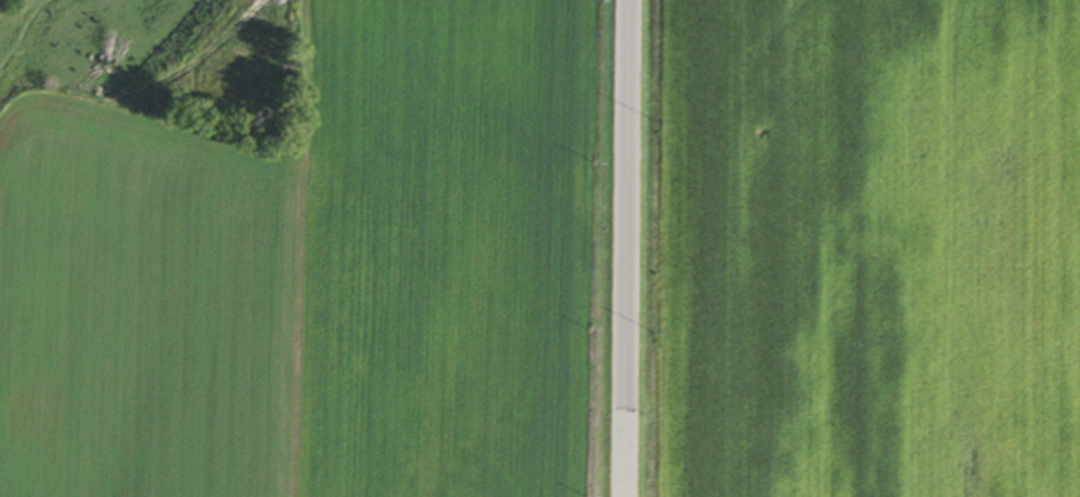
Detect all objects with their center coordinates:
road: (627, 248)

